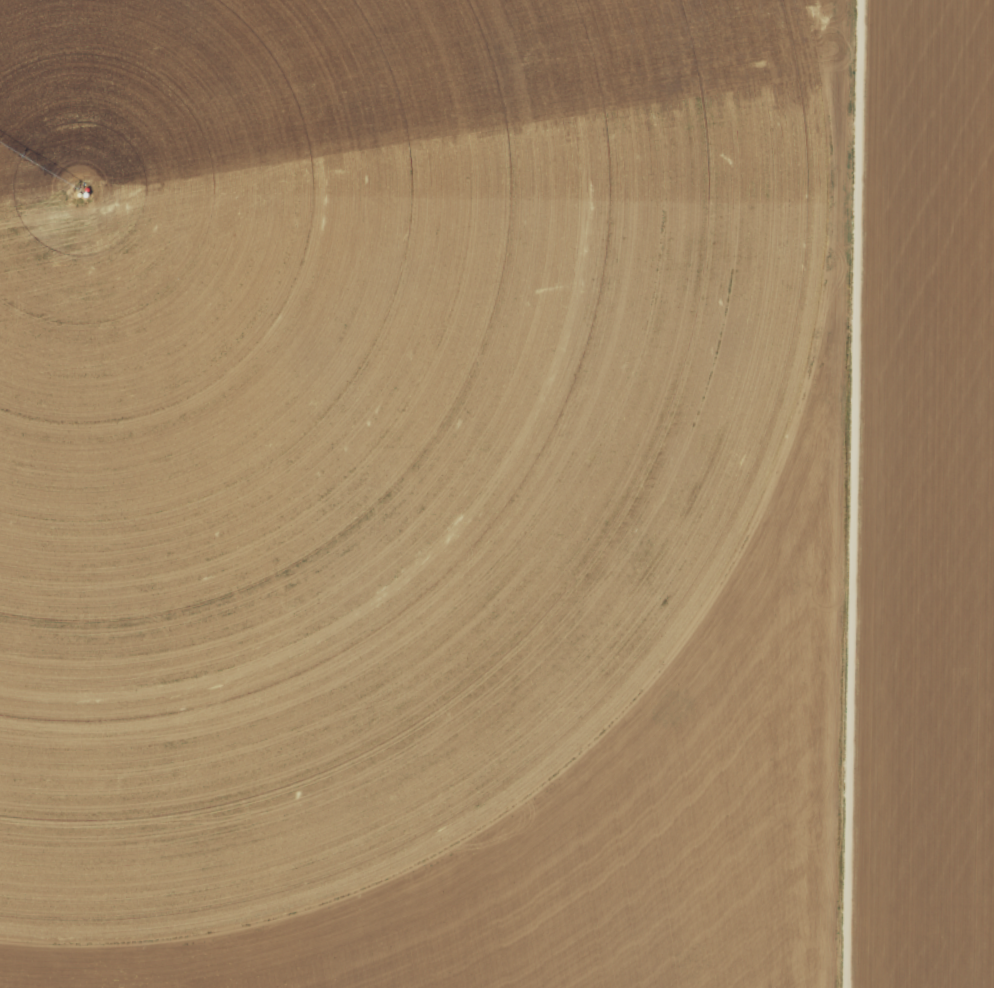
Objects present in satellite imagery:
road: (829, 494)

